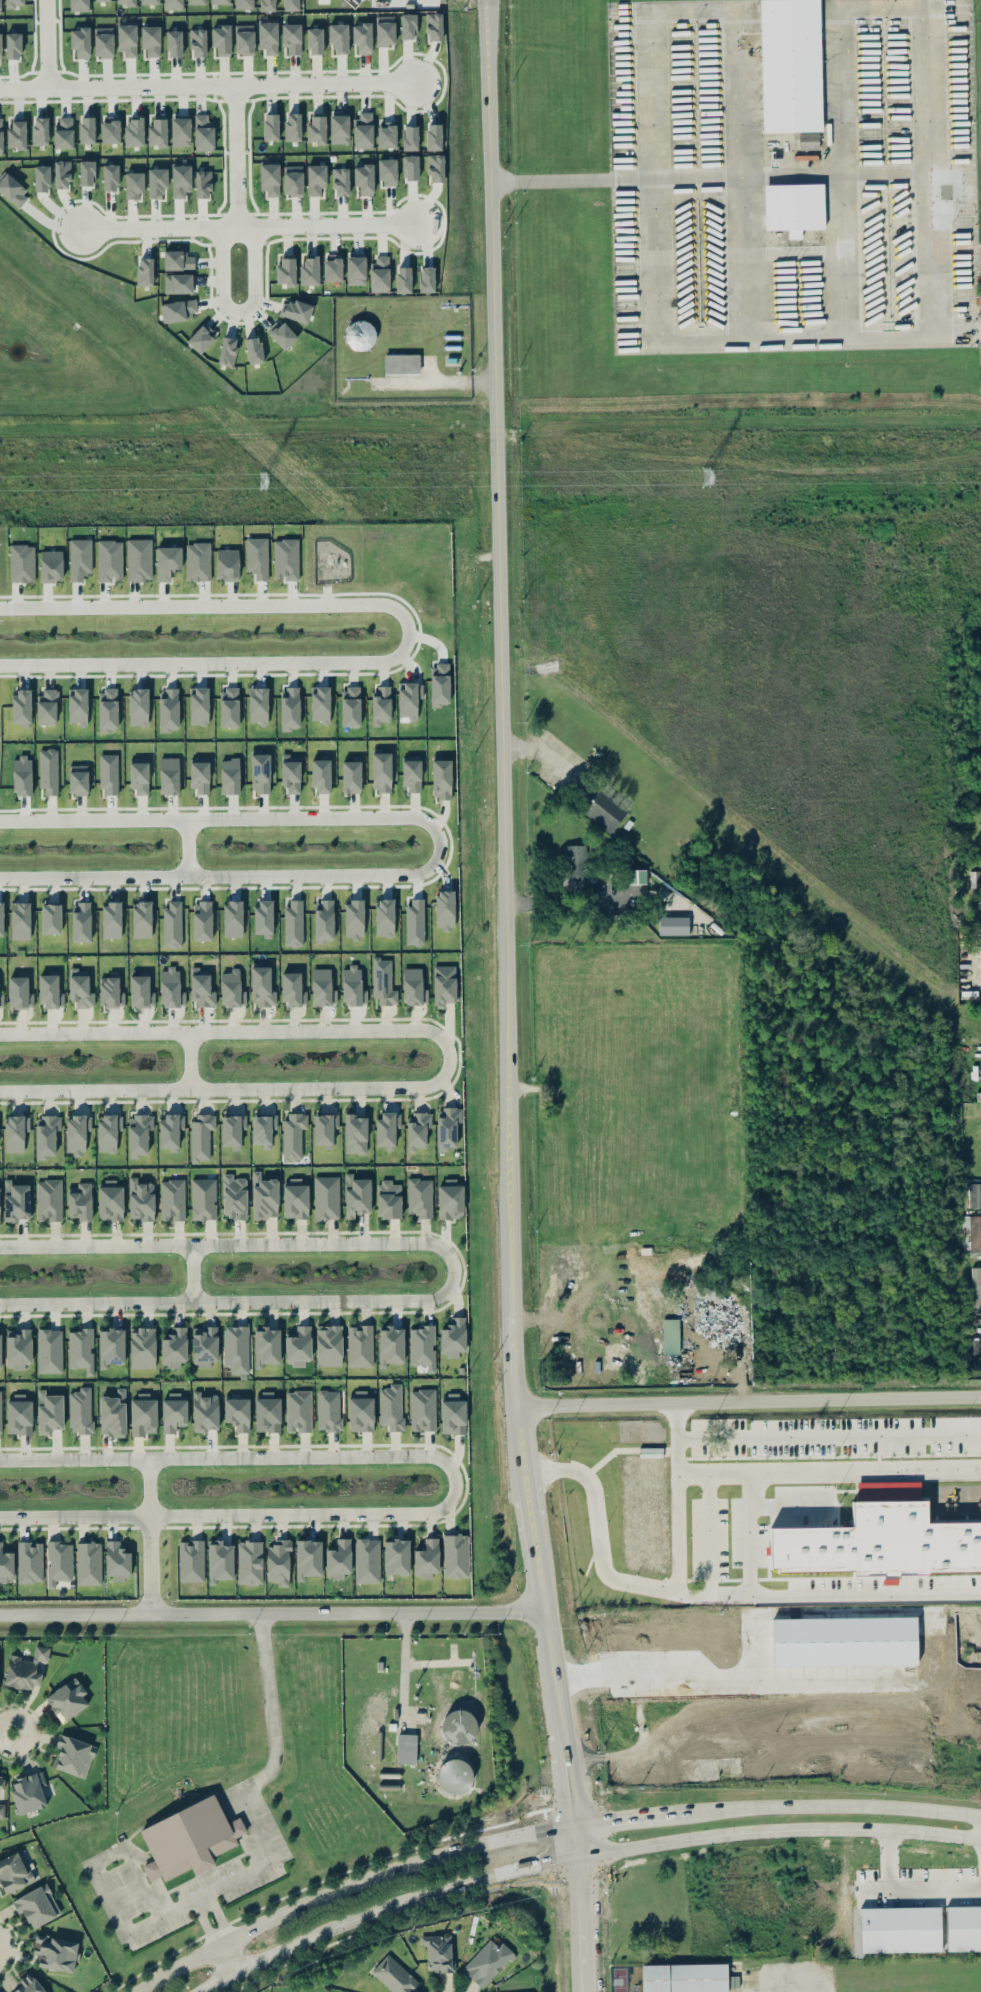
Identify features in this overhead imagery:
building: (102, 0)
building: (149, 1)
building: (196, 1)
building: (219, 1)
building: (126, 2)
building: (13, 3)
building: (173, 4)
building: (243, 4)
building: (79, 5)
building: (267, 5)
building: (291, 5)
building: (408, 26)
building: (434, 26)
building: (385, 30)
building: (268, 36)
building: (291, 37)
building: (338, 37)
building: (362, 37)
building: (244, 38)
building: (151, 39)
building: (221, 39)
building: (127, 40)
building: (80, 41)
building: (103, 41)
building: (314, 41)
building: (198, 42)
building: (174, 43)
building: (0, 45)
building: (13, 45)
building: (791, 65)
road: (184, 82)
road: (22, 85)
road: (924, 86)
building: (270, 126)
building: (292, 126)
building: (316, 128)
building: (339, 128)
building: (87, 129)
building: (39, 130)
building: (110, 130)
building: (363, 130)
building: (134, 131)
building: (157, 131)
building: (180, 131)
building: (203, 132)
building: (16, 133)
building: (63, 133)
building: (386, 133)
building: (1, 134)
building: (433, 136)
building: (409, 137)
building: (808, 140)
building: (410, 167)
building: (435, 167)
building: (387, 171)
building: (86, 172)
building: (62, 174)
road: (768, 175)
building: (110, 177)
building: (41, 178)
building: (316, 178)
building: (364, 178)
building: (270, 179)
building: (293, 180)
road: (551, 180)
building: (180, 181)
building: (340, 181)
building: (157, 182)
building: (203, 183)
building: (134, 184)
building: (12, 190)
building: (794, 207)
road: (250, 225)
road: (158, 226)
road: (928, 252)
building: (177, 259)
building: (332, 267)
building: (309, 269)
building: (286, 270)
building: (355, 270)
building: (144, 271)
building: (379, 274)
building: (403, 279)
building: (426, 279)
building: (177, 282)
building: (178, 309)
building: (296, 310)
road: (238, 312)
building: (281, 333)
building: (359, 334)
road: (715, 336)
building: (199, 338)
building: (253, 350)
building: (226, 351)
building: (402, 363)
power tower: (716, 479)
power tower: (253, 485)
building: (257, 557)
building: (79, 558)
building: (286, 558)
building: (139, 559)
building: (109, 560)
building: (167, 561)
building: (198, 561)
building: (22, 562)
building: (227, 564)
building: (51, 565)
road: (399, 633)
building: (409, 698)
building: (320, 704)
building: (380, 704)
building: (47, 705)
building: (78, 705)
building: (199, 705)
building: (258, 705)
building: (138, 706)
building: (350, 706)
building: (21, 707)
building: (229, 707)
building: (289, 708)
building: (108, 709)
building: (168, 709)
road: (501, 733)
building: (48, 770)
building: (381, 771)
building: (260, 772)
building: (291, 773)
building: (411, 773)
building: (109, 774)
building: (199, 774)
building: (21, 775)
building: (169, 775)
building: (229, 775)
building: (139, 776)
building: (321, 776)
building: (351, 776)
building: (441, 778)
building: (78, 779)
building: (604, 811)
road: (435, 843)
road: (181, 847)
building: (575, 868)
building: (636, 876)
road: (571, 905)
building: (444, 909)
building: (1, 917)
building: (384, 917)
building: (50, 918)
building: (232, 918)
building: (353, 918)
building: (141, 919)
building: (20, 920)
building: (111, 920)
building: (202, 920)
building: (323, 920)
building: (80, 921)
building: (415, 921)
building: (293, 922)
building: (172, 924)
building: (673, 925)
building: (383, 981)
building: (444, 984)
building: (261, 986)
building: (321, 986)
building: (352, 986)
building: (169, 987)
building: (202, 987)
building: (230, 987)
building: (413, 987)
building: (292, 988)
building: (80, 989)
building: (49, 990)
building: (111, 990)
building: (18, 991)
building: (141, 991)
building: (1, 999)
road: (448, 1057)
road: (190, 1060)
building: (978, 1095)
building: (447, 1127)
building: (324, 1128)
building: (387, 1128)
building: (232, 1129)
building: (263, 1129)
building: (417, 1129)
building: (170, 1130)
building: (108, 1131)
building: (77, 1132)
building: (14, 1133)
building: (355, 1133)
building: (139, 1134)
building: (293, 1134)
building: (46, 1135)
building: (201, 1135)
building: (974, 1194)
building: (356, 1195)
building: (234, 1196)
building: (264, 1196)
building: (326, 1197)
building: (419, 1197)
building: (203, 1198)
building: (295, 1198)
building: (141, 1199)
building: (172, 1199)
building: (388, 1199)
building: (451, 1199)
building: (16, 1200)
building: (49, 1200)
building: (110, 1200)
building: (80, 1201)
building: (975, 1232)
road: (453, 1270)
road: (192, 1273)
building: (976, 1289)
building: (671, 1335)
building: (453, 1337)
building: (329, 1344)
building: (204, 1345)
building: (266, 1345)
building: (360, 1345)
building: (391, 1345)
building: (111, 1346)
building: (298, 1346)
building: (422, 1346)
building: (18, 1347)
building: (142, 1347)
building: (174, 1347)
building: (81, 1348)
building: (236, 1348)
building: (0, 1349)
building: (49, 1350)
road: (747, 1403)
building: (391, 1406)
building: (329, 1409)
building: (423, 1409)
building: (80, 1410)
building: (298, 1410)
building: (49, 1411)
building: (173, 1411)
building: (205, 1411)
building: (360, 1411)
building: (237, 1412)
building: (267, 1412)
building: (0, 1413)
building: (113, 1413)
building: (19, 1414)
building: (453, 1414)
building: (143, 1415)
road: (827, 1436)
road: (827, 1469)
road: (455, 1484)
road: (675, 1500)
road: (149, 1536)
building: (881, 1537)
road: (751, 1553)
building: (455, 1555)
building: (396, 1556)
building: (308, 1557)
building: (338, 1558)
building: (426, 1558)
building: (367, 1559)
building: (116, 1560)
building: (219, 1560)
building: (29, 1561)
building: (191, 1561)
building: (250, 1561)
building: (278, 1561)
building: (58, 1562)
building: (88, 1562)
building: (5, 1564)
road: (635, 1585)
road: (866, 1594)
road: (838, 1610)
road: (272, 1614)
building: (850, 1651)
road: (454, 1652)
road: (438, 1661)
building: (25, 1668)
road: (404, 1669)
road: (746, 1671)
building: (67, 1698)
road: (274, 1719)
road: (560, 1728)
road: (8, 1731)
building: (406, 1748)
building: (73, 1754)
road: (602, 1754)
building: (454, 1775)
building: (1, 1782)
building: (29, 1791)
road: (828, 1805)
building: (2, 1810)
road: (625, 1815)
road: (251, 1817)
road: (948, 1824)
road: (779, 1831)
road: (240, 1836)
building: (188, 1838)
road: (133, 1866)
road: (149, 1869)
building: (13, 1871)
road: (346, 1885)
road: (905, 1889)
road: (199, 1896)
road: (112, 1897)
road: (271, 1903)
building: (36, 1905)
road: (384, 1908)
road: (217, 1919)
road: (205, 1923)
building: (963, 1928)
building: (900, 1929)
road: (343, 1937)
building: (438, 1951)
building: (55, 1952)
road: (227, 1960)
building: (486, 1961)
building: (393, 1974)
building: (683, 1977)
road: (617, 1978)
road: (746, 1980)
building: (27, 1985)
building: (521, 1991)
building: (532, 1991)

